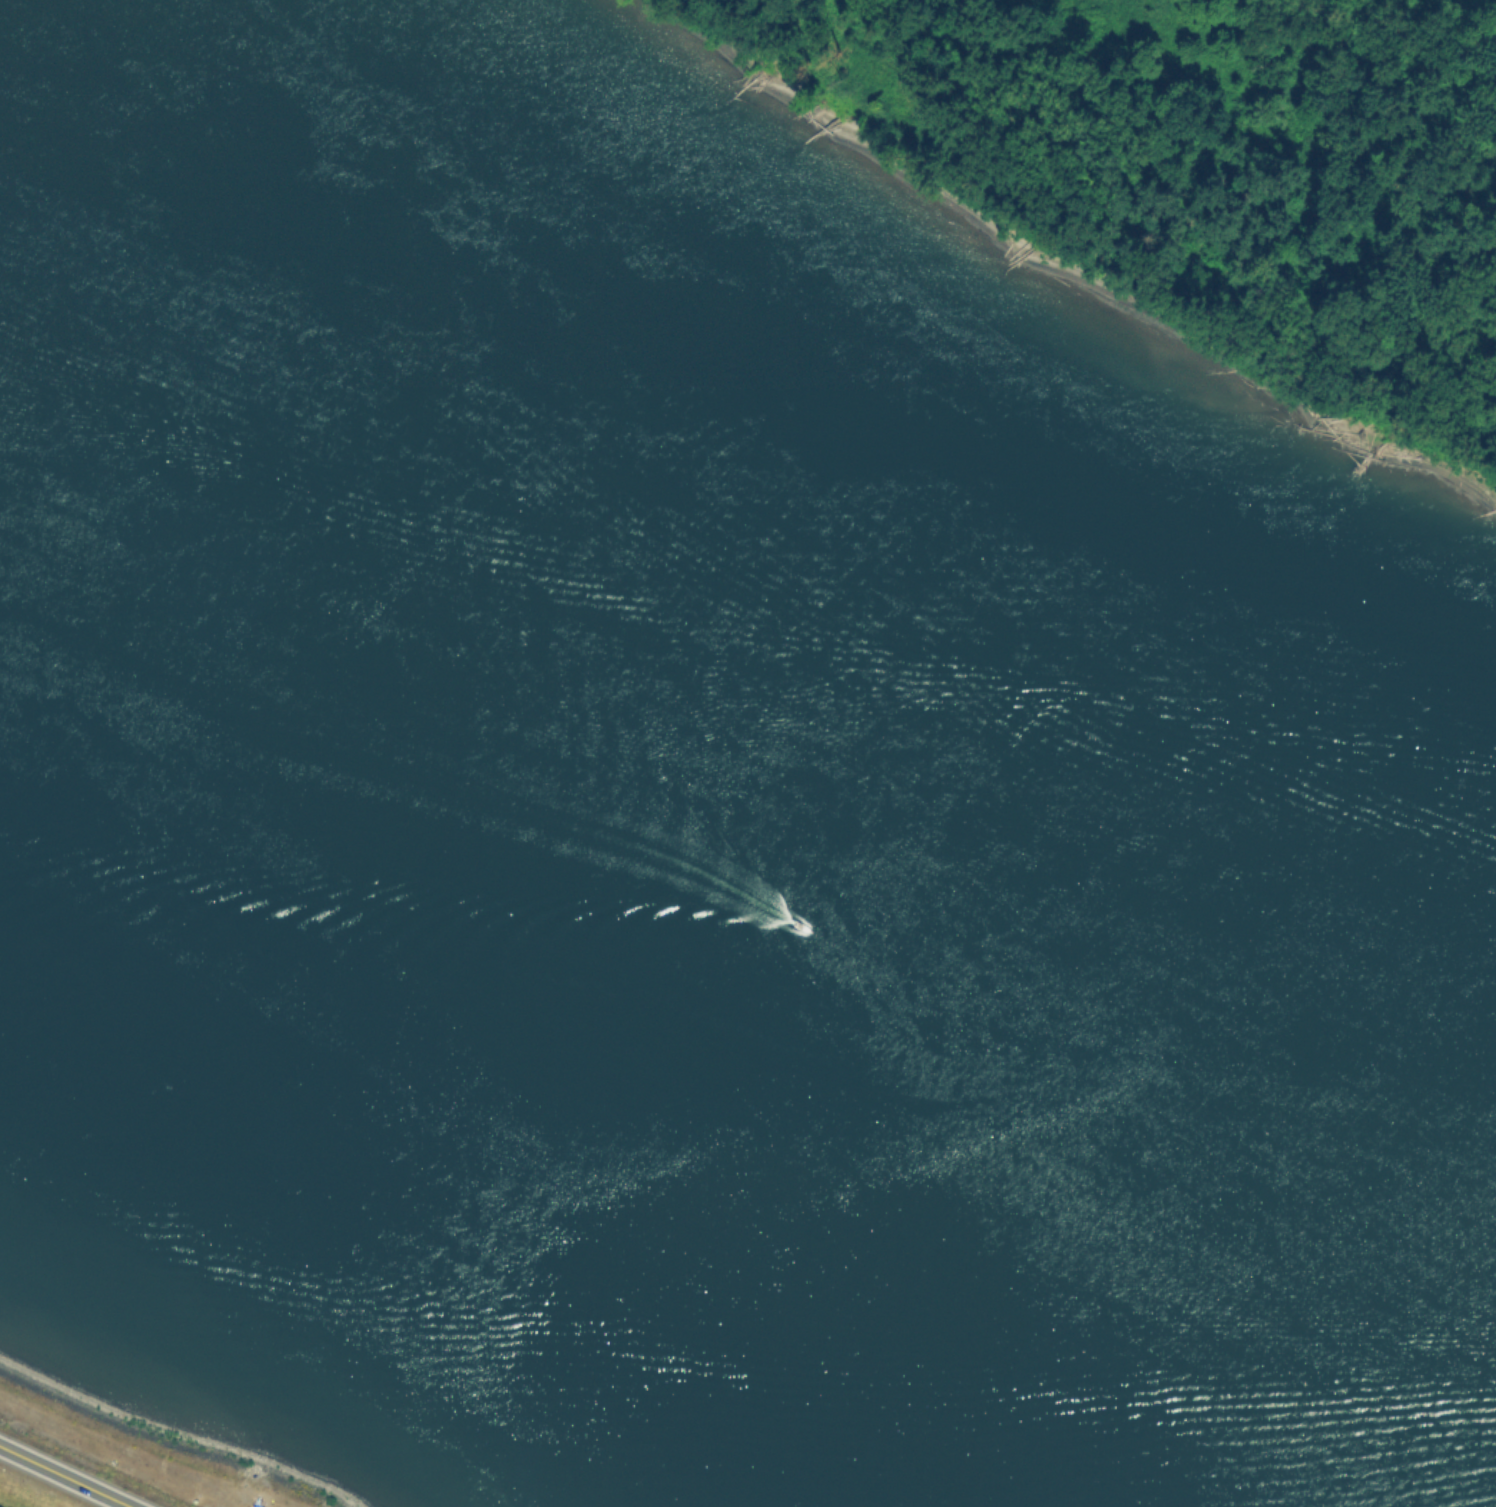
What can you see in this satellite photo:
road: (64, 1476)

